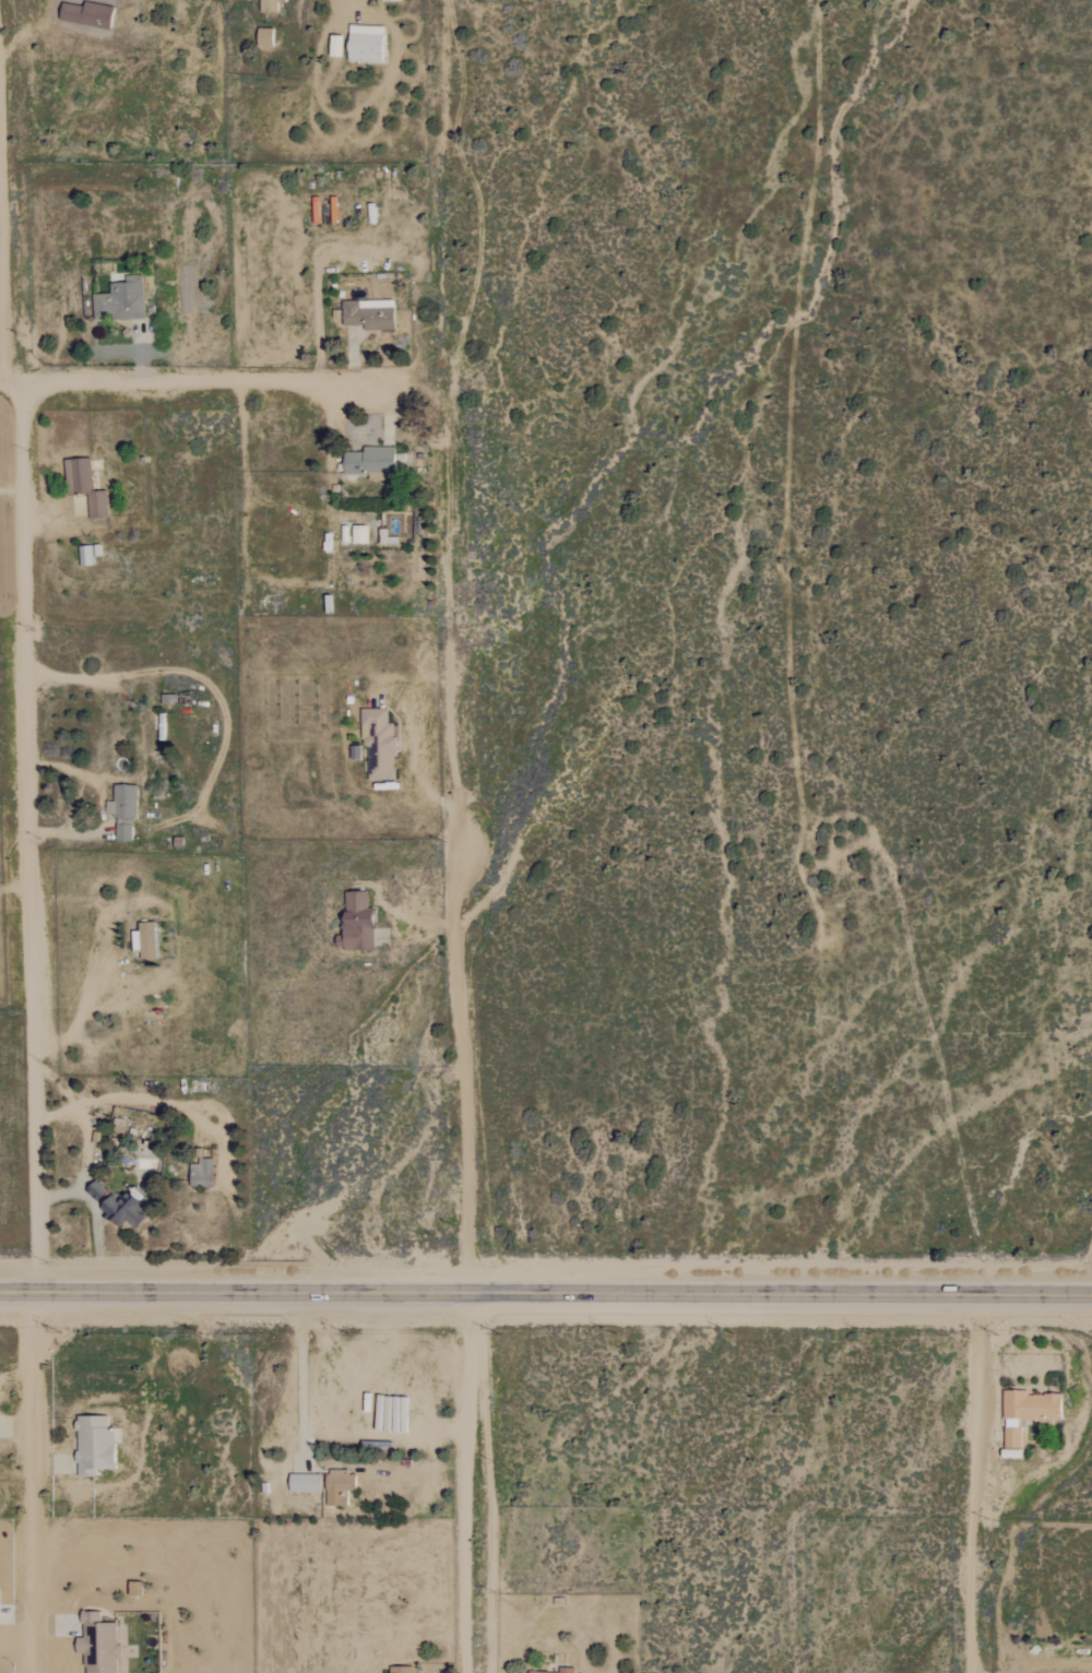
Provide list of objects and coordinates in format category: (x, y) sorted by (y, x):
building: (394, 0)
building: (274, 5)
building: (93, 15)
road: (330, 24)
building: (270, 37)
building: (371, 44)
building: (342, 46)
building: (124, 300)
building: (373, 315)
road: (205, 382)
building: (91, 486)
road: (12, 489)
building: (356, 534)
building: (90, 555)
road: (143, 673)
road: (412, 769)
road: (102, 806)
building: (128, 811)
road: (32, 838)
road: (15, 890)
building: (150, 940)
road: (82, 1011)
road: (461, 1051)
road: (85, 1134)
building: (205, 1173)
building: (123, 1207)
road: (96, 1218)
road: (545, 1292)
road: (300, 1375)
building: (1025, 1412)
building: (100, 1446)
road: (470, 1482)
road: (974, 1482)
road: (37, 1483)
building: (559, 1670)
building: (539, 1672)

